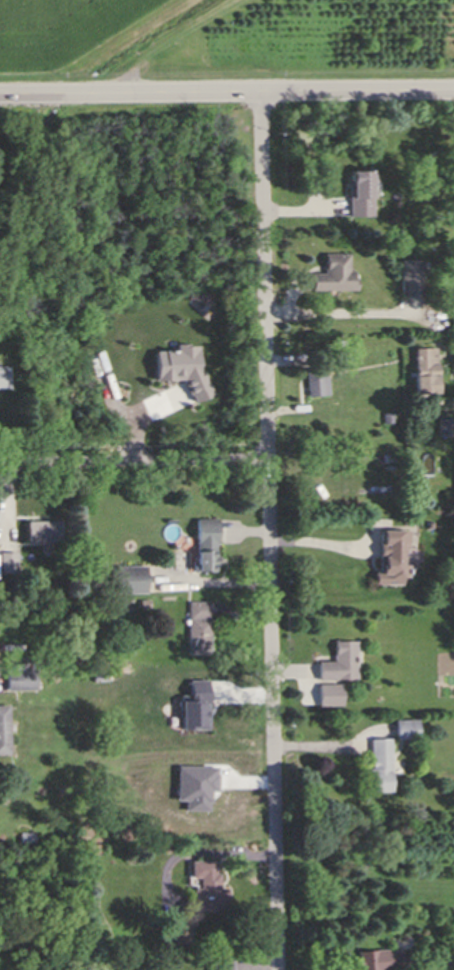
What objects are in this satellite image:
crop: (223, 35)
road: (227, 94)
building: (359, 192)
building: (332, 273)
building: (410, 277)
road: (337, 313)
building: (316, 354)
building: (422, 367)
building: (183, 371)
building: (3, 375)
building: (311, 381)
building: (384, 416)
building: (442, 424)
road: (131, 459)
building: (42, 529)
road: (265, 532)
road: (319, 543)
building: (201, 548)
building: (388, 556)
building: (6, 562)
building: (127, 582)
building: (197, 625)
building: (341, 660)
building: (18, 678)
building: (330, 695)
building: (196, 708)
building: (2, 726)
building: (403, 728)
building: (382, 762)
building: (195, 787)
building: (24, 836)
building: (94, 848)
building: (200, 890)
building: (172, 937)
building: (374, 959)
building: (220, 964)

